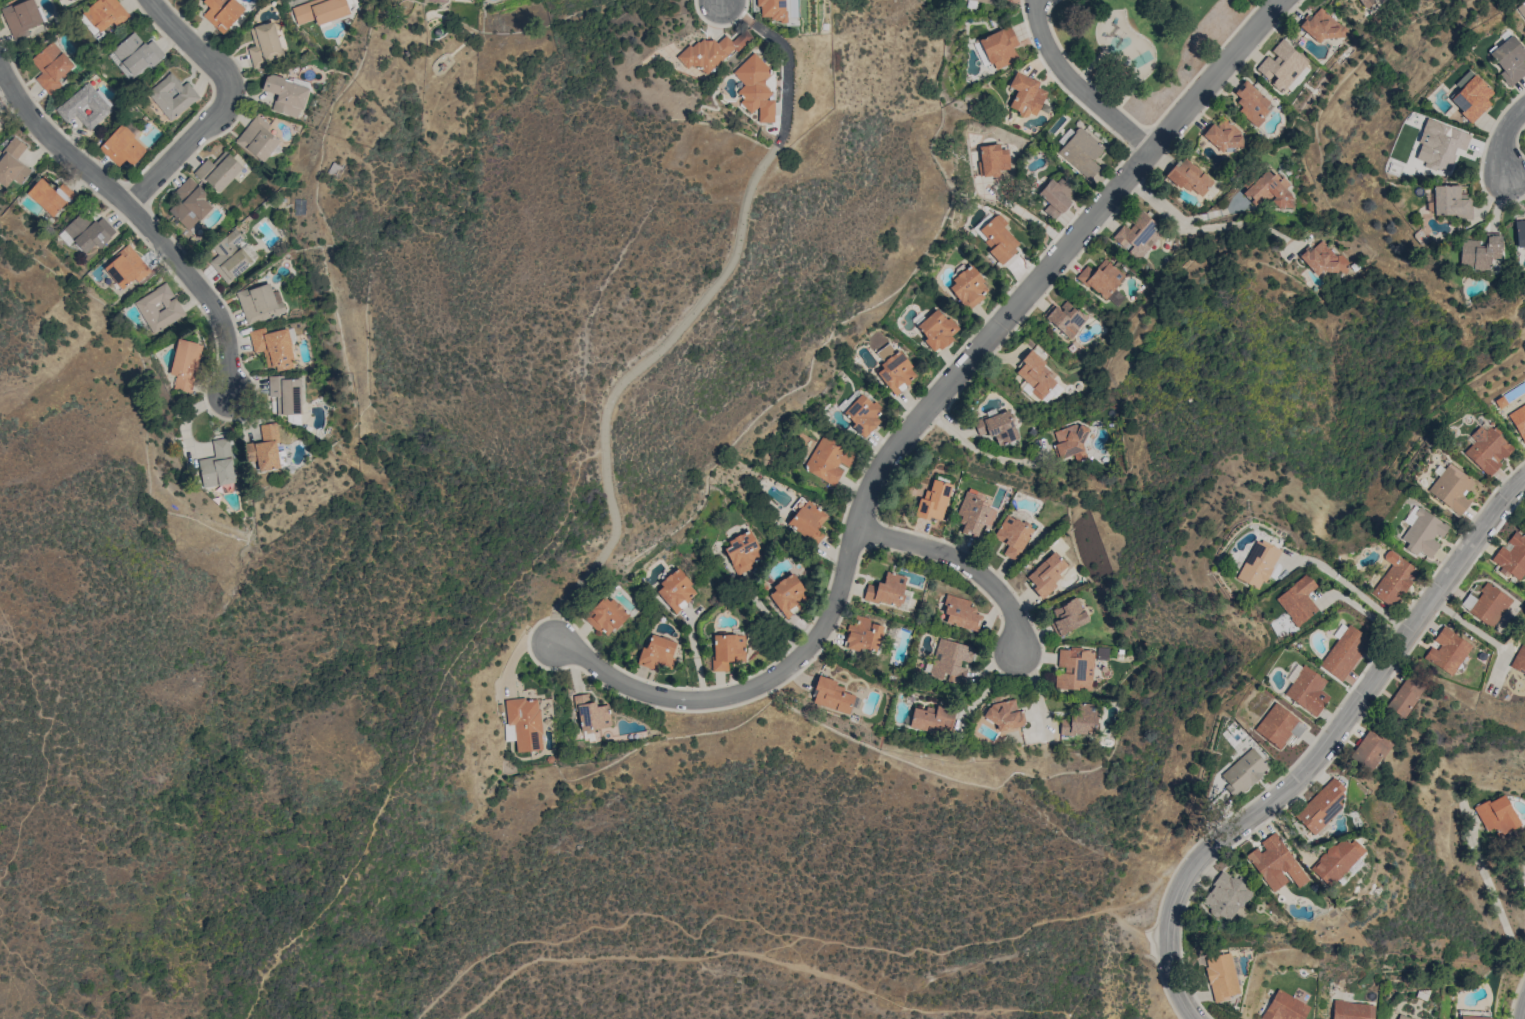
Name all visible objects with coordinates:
building: (983, 1)
building: (1364, 2)
building: (772, 9)
building: (319, 10)
building: (105, 13)
building: (221, 13)
building: (21, 16)
building: (88, 24)
building: (1322, 26)
building: (264, 44)
park: (1145, 45)
building: (999, 47)
building: (711, 51)
building: (135, 54)
building: (1509, 59)
road: (1, 67)
building: (50, 67)
building: (1283, 67)
building: (1463, 78)
road: (1078, 85)
building: (755, 88)
building: (285, 95)
building: (1025, 95)
building: (171, 96)
building: (1471, 98)
building: (1251, 102)
building: (85, 106)
road: (221, 107)
building: (0, 125)
building: (1223, 135)
building: (257, 139)
road: (1505, 141)
building: (1439, 144)
building: (122, 146)
building: (1081, 152)
building: (992, 159)
building: (12, 163)
building: (218, 171)
building: (1190, 178)
building: (1268, 190)
building: (50, 196)
building: (1056, 196)
building: (1450, 201)
building: (189, 203)
road: (1158, 204)
road: (138, 218)
road: (1243, 223)
building: (88, 231)
building: (1520, 232)
building: (1137, 234)
building: (998, 238)
building: (1479, 252)
building: (231, 256)
building: (1321, 260)
building: (125, 267)
building: (1100, 278)
building: (968, 286)
building: (1115, 297)
building: (259, 302)
building: (158, 308)
road: (688, 318)
building: (1064, 318)
building: (936, 330)
building: (273, 346)
road: (968, 358)
building: (184, 364)
building: (895, 372)
building: (1035, 375)
building: (290, 399)
building: (862, 414)
building: (997, 427)
building: (1070, 443)
road: (977, 448)
building: (265, 449)
building: (1487, 449)
road: (590, 453)
building: (828, 459)
building: (217, 465)
building: (1451, 489)
building: (933, 501)
building: (807, 519)
building: (1423, 533)
building: (1012, 536)
building: (742, 552)
road: (965, 561)
building: (1257, 564)
building: (1046, 574)
building: (1393, 579)
road: (509, 588)
road: (1352, 589)
building: (886, 590)
building: (675, 591)
building: (1297, 600)
building: (1486, 604)
road: (1363, 612)
building: (961, 613)
building: (605, 615)
building: (1067, 617)
building: (863, 635)
building: (726, 650)
building: (1446, 650)
building: (657, 652)
building: (1344, 652)
building: (1520, 658)
building: (951, 661)
building: (1074, 669)
road: (617, 679)
road: (989, 687)
building: (1307, 690)
building: (831, 695)
building: (1405, 696)
building: (591, 714)
building: (1003, 714)
building: (932, 719)
building: (1081, 720)
building: (523, 724)
building: (1278, 726)
road: (1322, 749)
building: (1368, 751)
road: (42, 752)
building: (1244, 771)
building: (1320, 807)
building: (1497, 815)
building: (1337, 859)
building: (1275, 864)
road: (1492, 893)
building: (1225, 896)
road: (775, 933)
road: (762, 958)
road: (1093, 967)
building: (1221, 976)
road: (38, 982)
building: (1284, 1007)
building: (1352, 1010)
building: (1402, 1017)
building: (1474, 1017)

